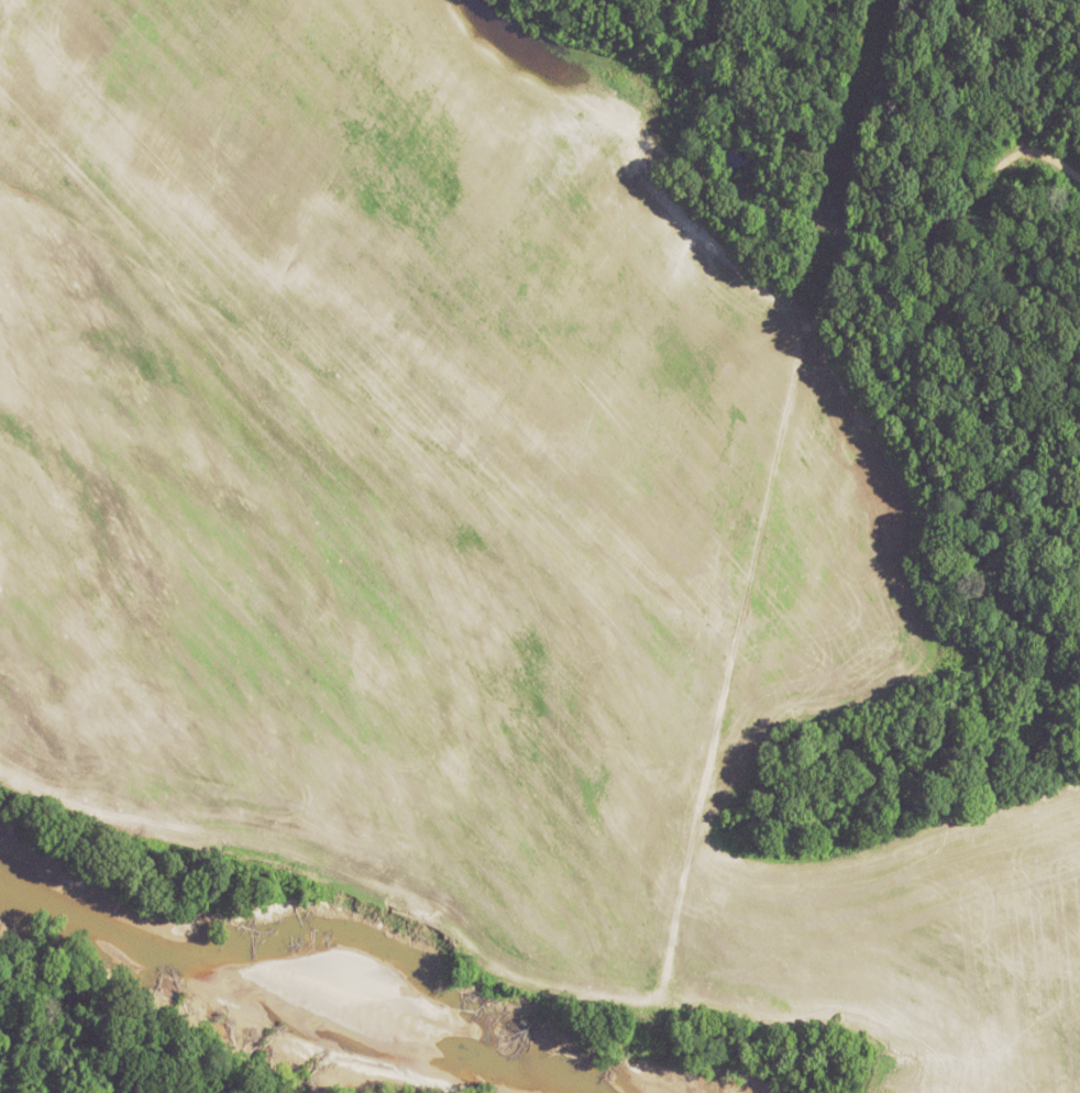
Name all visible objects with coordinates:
road: (889, 230)
river: (306, 976)

